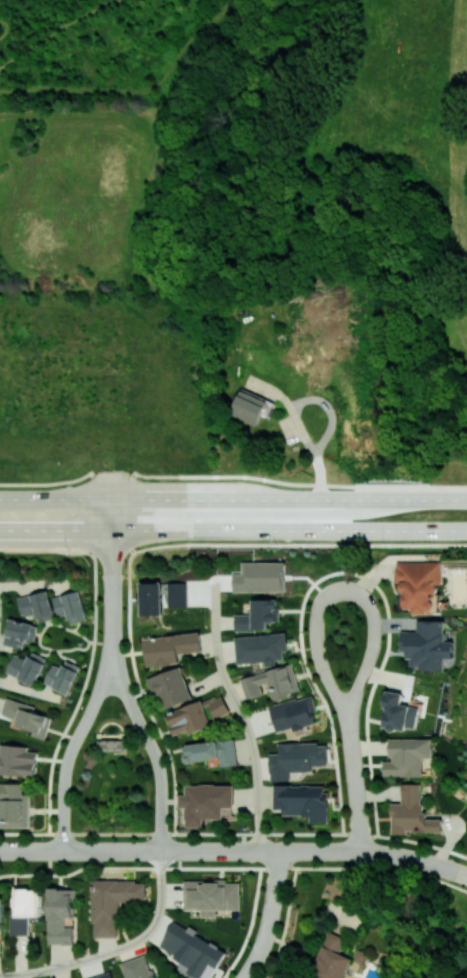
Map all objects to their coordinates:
park: (449, 231)
road: (270, 390)
building: (250, 407)
road: (329, 411)
road: (300, 429)
road: (319, 476)
road: (230, 477)
road: (233, 499)
road: (132, 513)
road: (110, 520)
road: (233, 529)
road: (232, 544)
park: (102, 565)
road: (345, 574)
road: (111, 580)
road: (34, 583)
building: (420, 584)
building: (161, 596)
road: (111, 602)
building: (37, 605)
building: (70, 606)
building: (259, 615)
road: (111, 625)
building: (19, 633)
road: (39, 635)
park: (343, 641)
road: (371, 645)
building: (427, 645)
building: (169, 648)
building: (261, 648)
road: (108, 651)
road: (317, 653)
road: (90, 658)
building: (27, 667)
building: (62, 676)
building: (272, 682)
building: (170, 688)
road: (28, 690)
road: (96, 694)
road: (142, 694)
building: (217, 706)
road: (240, 712)
building: (293, 713)
building: (399, 713)
building: (26, 717)
building: (188, 718)
park: (460, 724)
road: (145, 737)
building: (212, 751)
building: (407, 756)
building: (296, 758)
building: (17, 760)
park: (95, 769)
road: (62, 780)
road: (354, 786)
building: (303, 801)
building: (13, 805)
building: (412, 812)
road: (235, 833)
road: (122, 849)
road: (31, 850)
road: (73, 850)
road: (275, 850)
road: (422, 860)
road: (234, 867)
road: (460, 872)
building: (212, 896)
building: (112, 903)
building: (24, 909)
building: (1, 913)
building: (59, 915)
road: (269, 916)
park: (430, 918)
road: (252, 926)
road: (117, 949)
building: (192, 951)
building: (333, 959)
building: (138, 967)
building: (103, 975)

